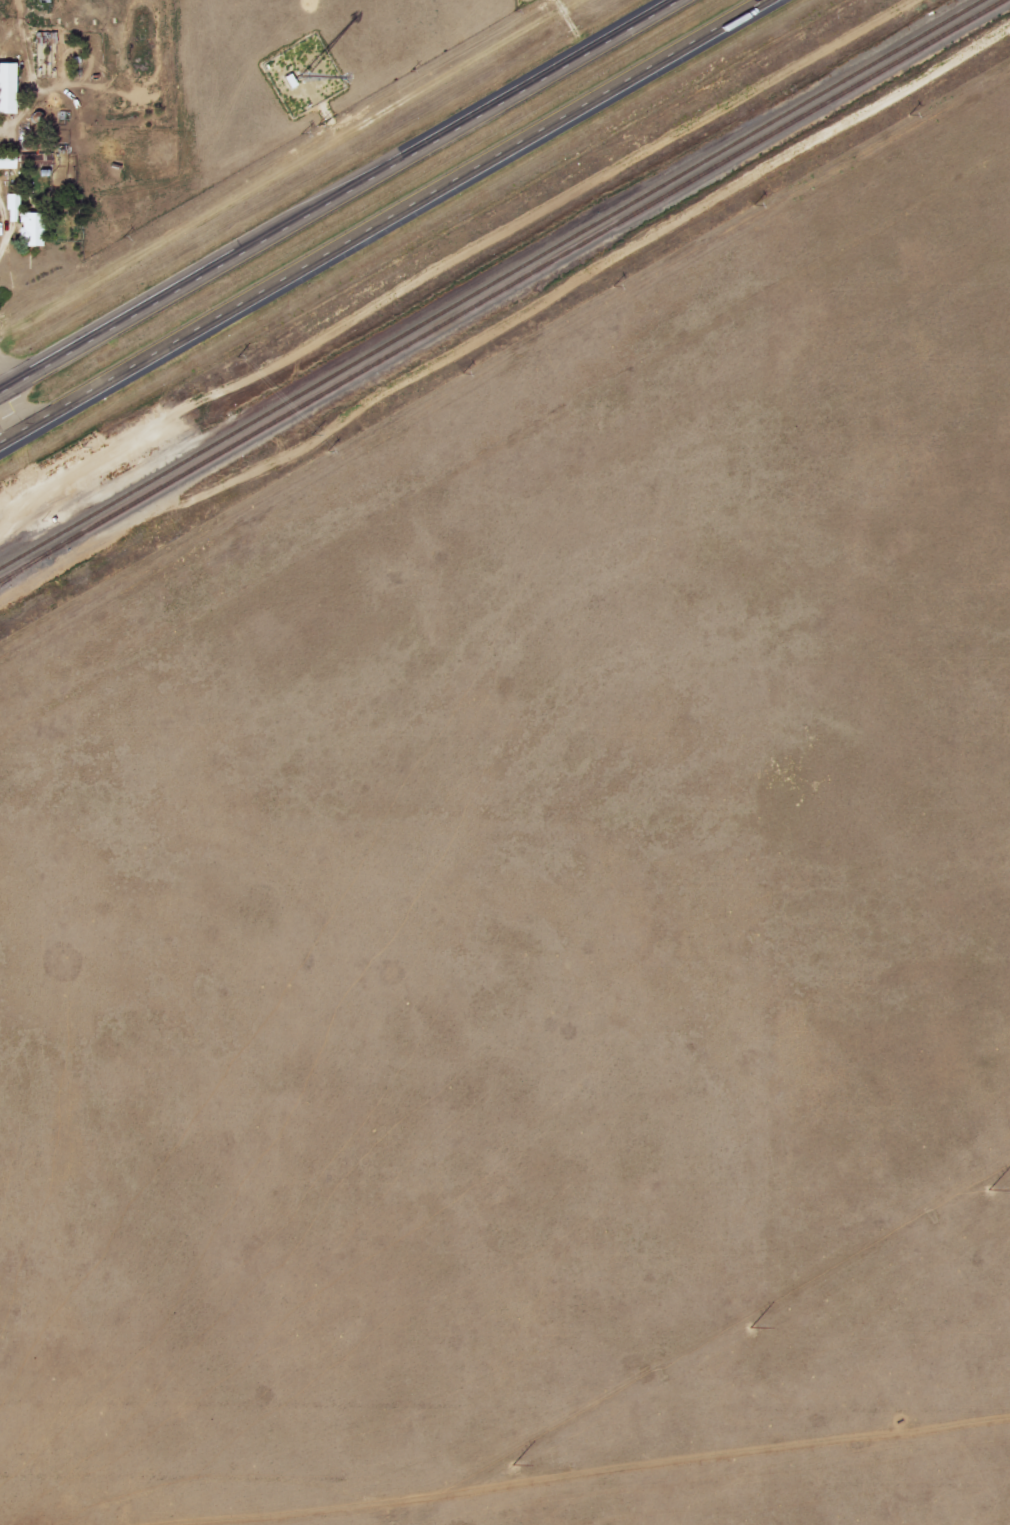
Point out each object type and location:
building: (7, 87)
building: (7, 161)
road: (338, 195)
road: (386, 221)
building: (25, 222)
railway: (489, 283)
railway: (501, 289)
road: (14, 407)
road: (1, 532)
railway: (6, 577)
power tower: (932, 1215)
power tower: (657, 1373)

